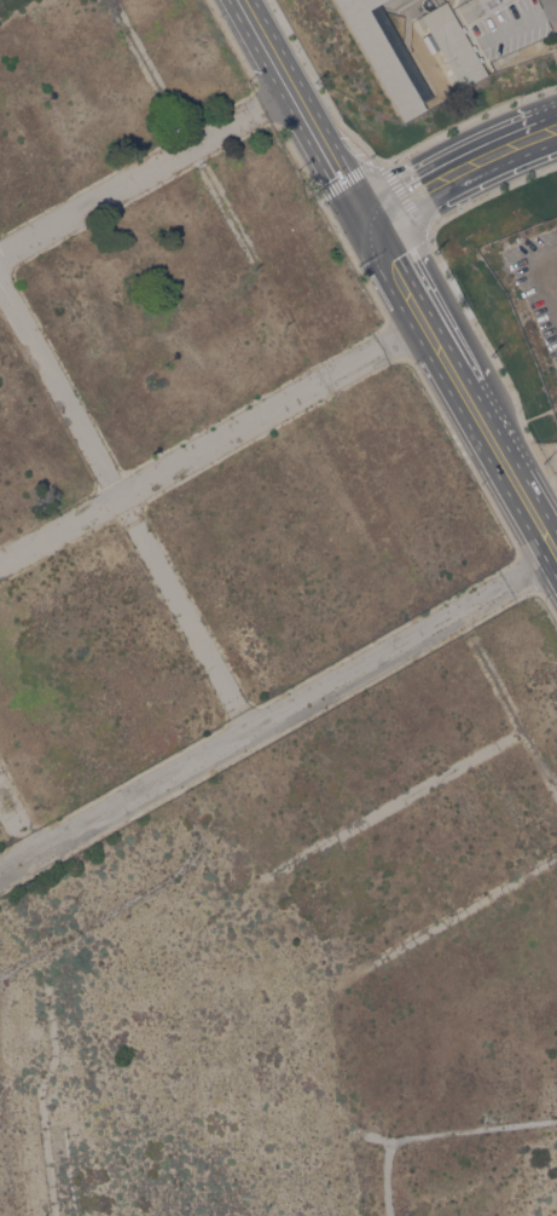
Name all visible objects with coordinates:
building: (504, 0)
building: (482, 1)
park: (5, 2)
road: (520, 23)
building: (456, 44)
building: (387, 54)
road: (278, 97)
road: (303, 103)
road: (466, 120)
road: (480, 149)
road: (504, 167)
road: (385, 168)
road: (130, 181)
road: (382, 195)
traffic signals: (361, 207)
road: (412, 209)
road: (367, 218)
traffic signals: (375, 230)
airport: (532, 289)
road: (419, 313)
road: (404, 335)
power substation: (551, 454)
road: (191, 456)
road: (512, 477)
road: (124, 507)
road: (278, 714)
road: (17, 820)
road: (134, 895)
road: (43, 1083)
road: (436, 1135)

